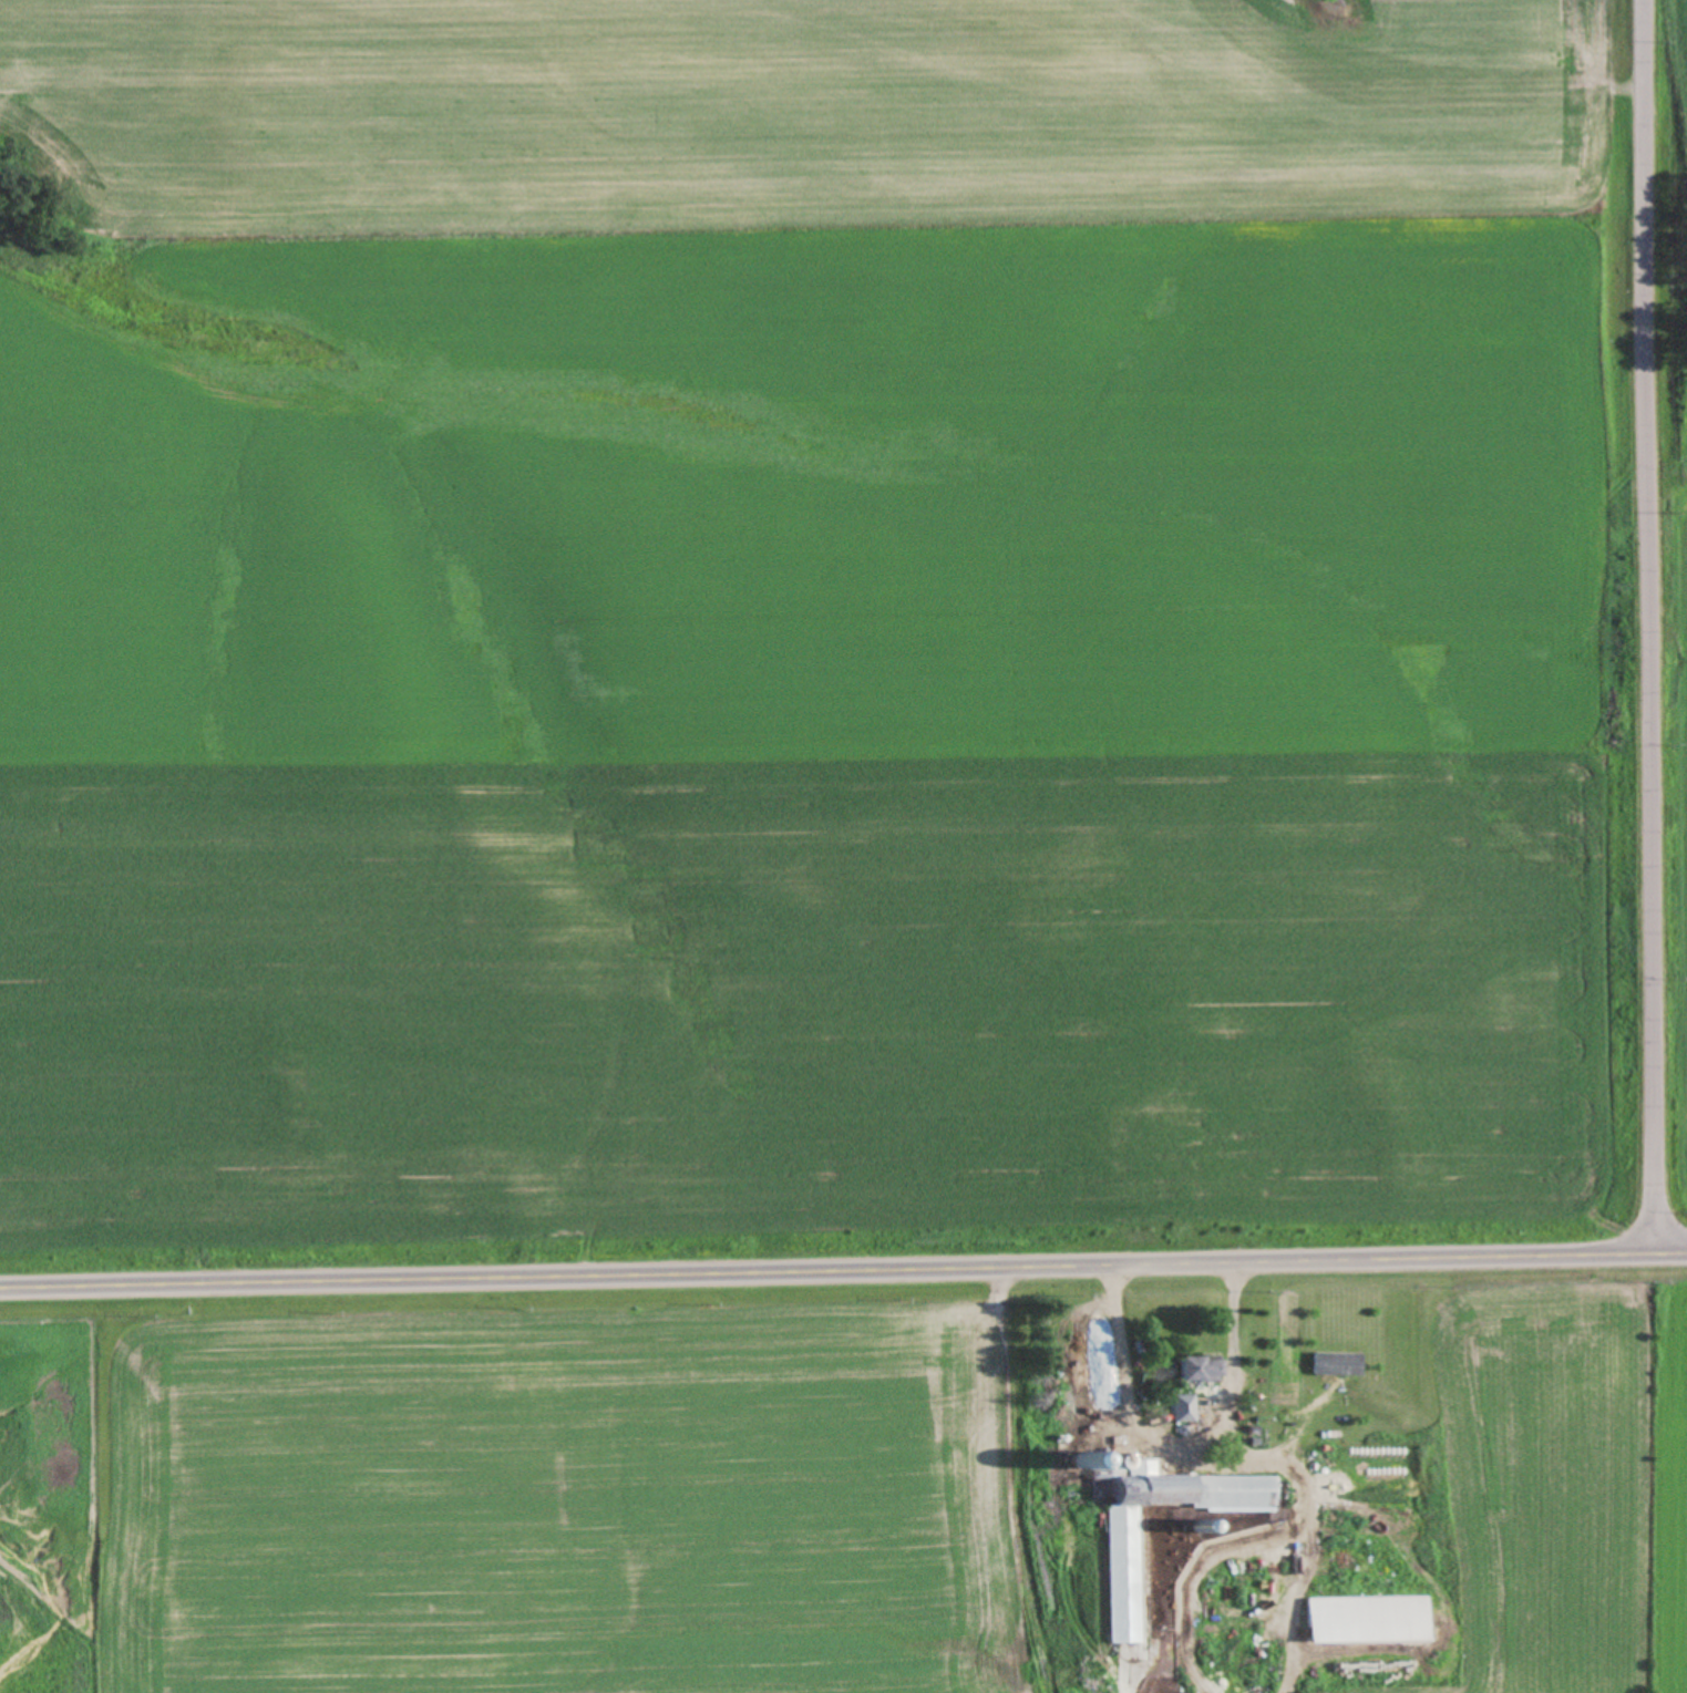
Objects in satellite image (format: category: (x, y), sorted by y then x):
road: (1646, 628)
road: (843, 1272)
building: (1193, 1371)
building: (1181, 1410)
building: (1117, 1578)
building: (1360, 1622)

